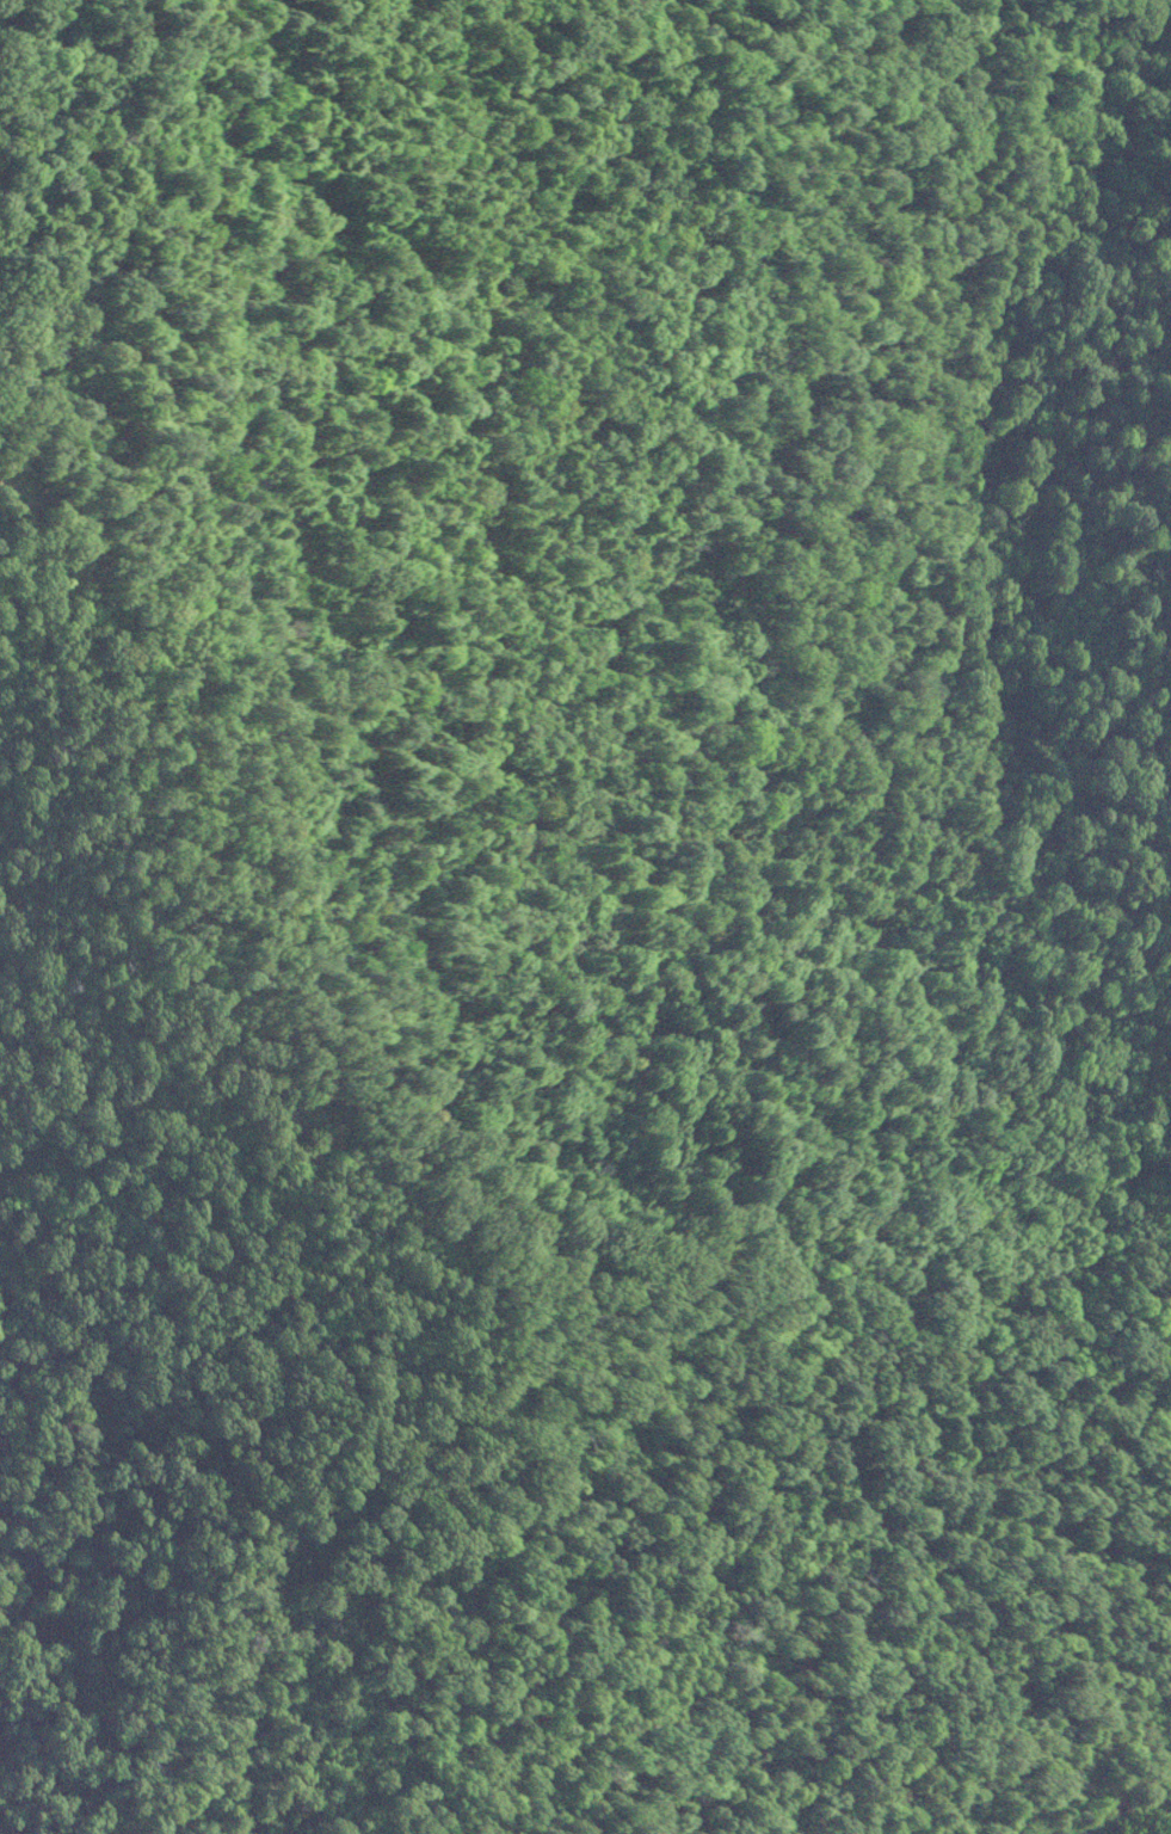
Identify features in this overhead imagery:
road: (1163, 1829)

